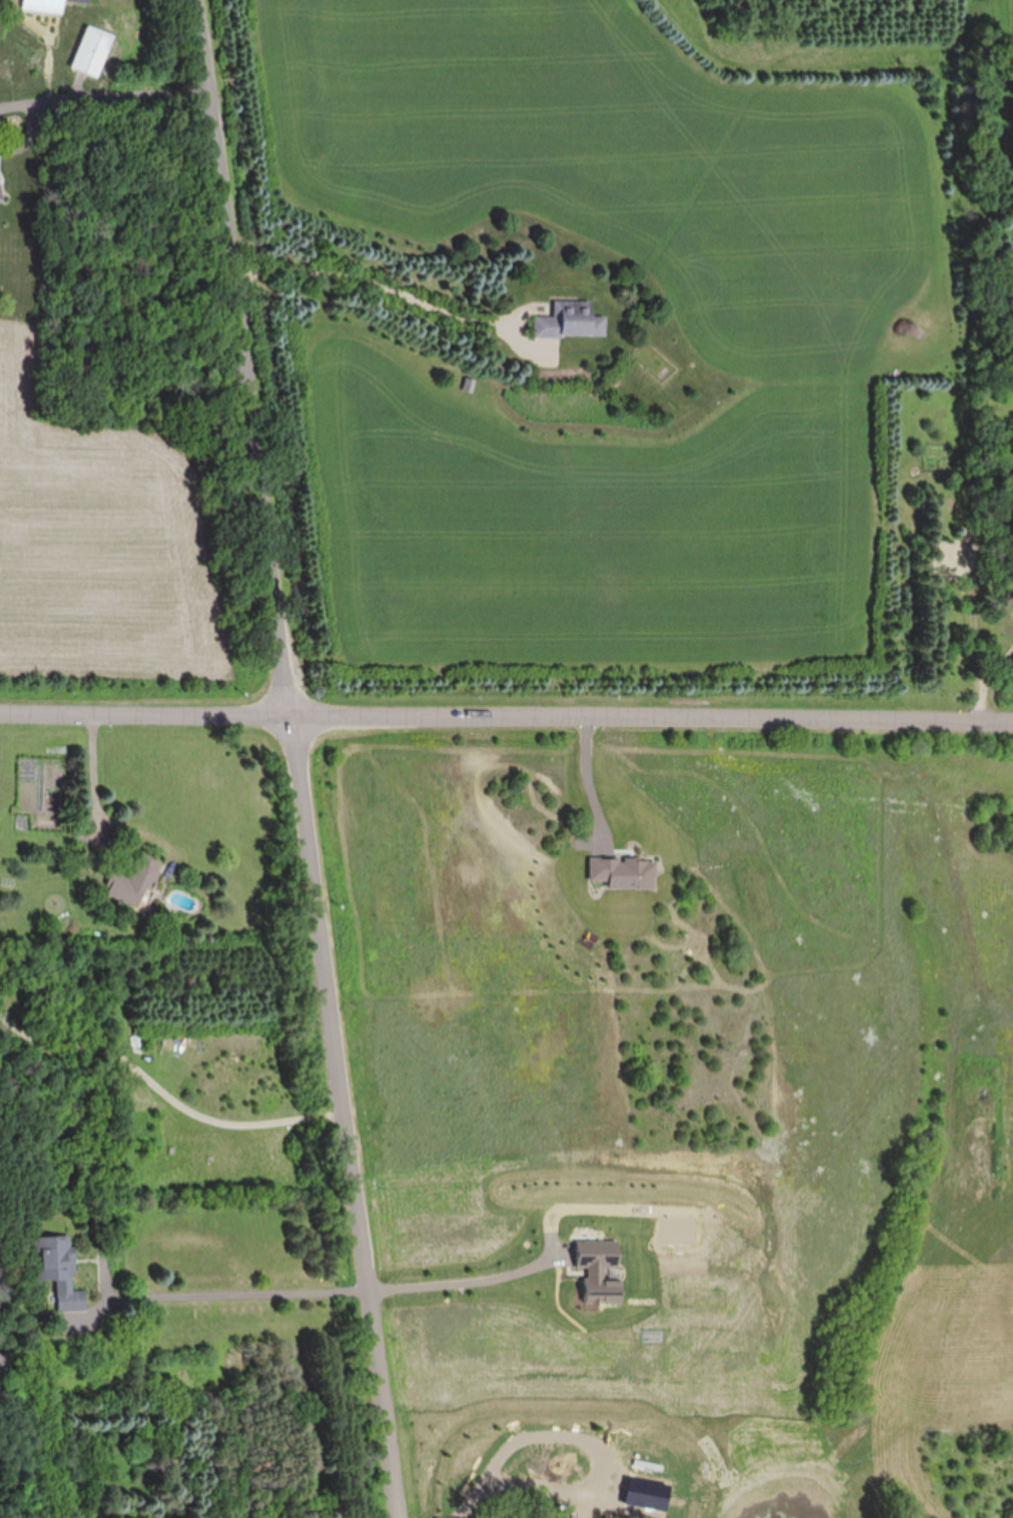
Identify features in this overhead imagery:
building: (80, 1)
building: (43, 6)
building: (91, 51)
road: (130, 95)
building: (0, 200)
road: (381, 286)
building: (573, 321)
road: (506, 714)
road: (298, 758)
road: (92, 764)
road: (586, 774)
building: (135, 881)
building: (169, 1042)
road: (167, 1095)
road: (463, 1270)
building: (59, 1271)
road: (238, 1286)
road: (525, 1481)

